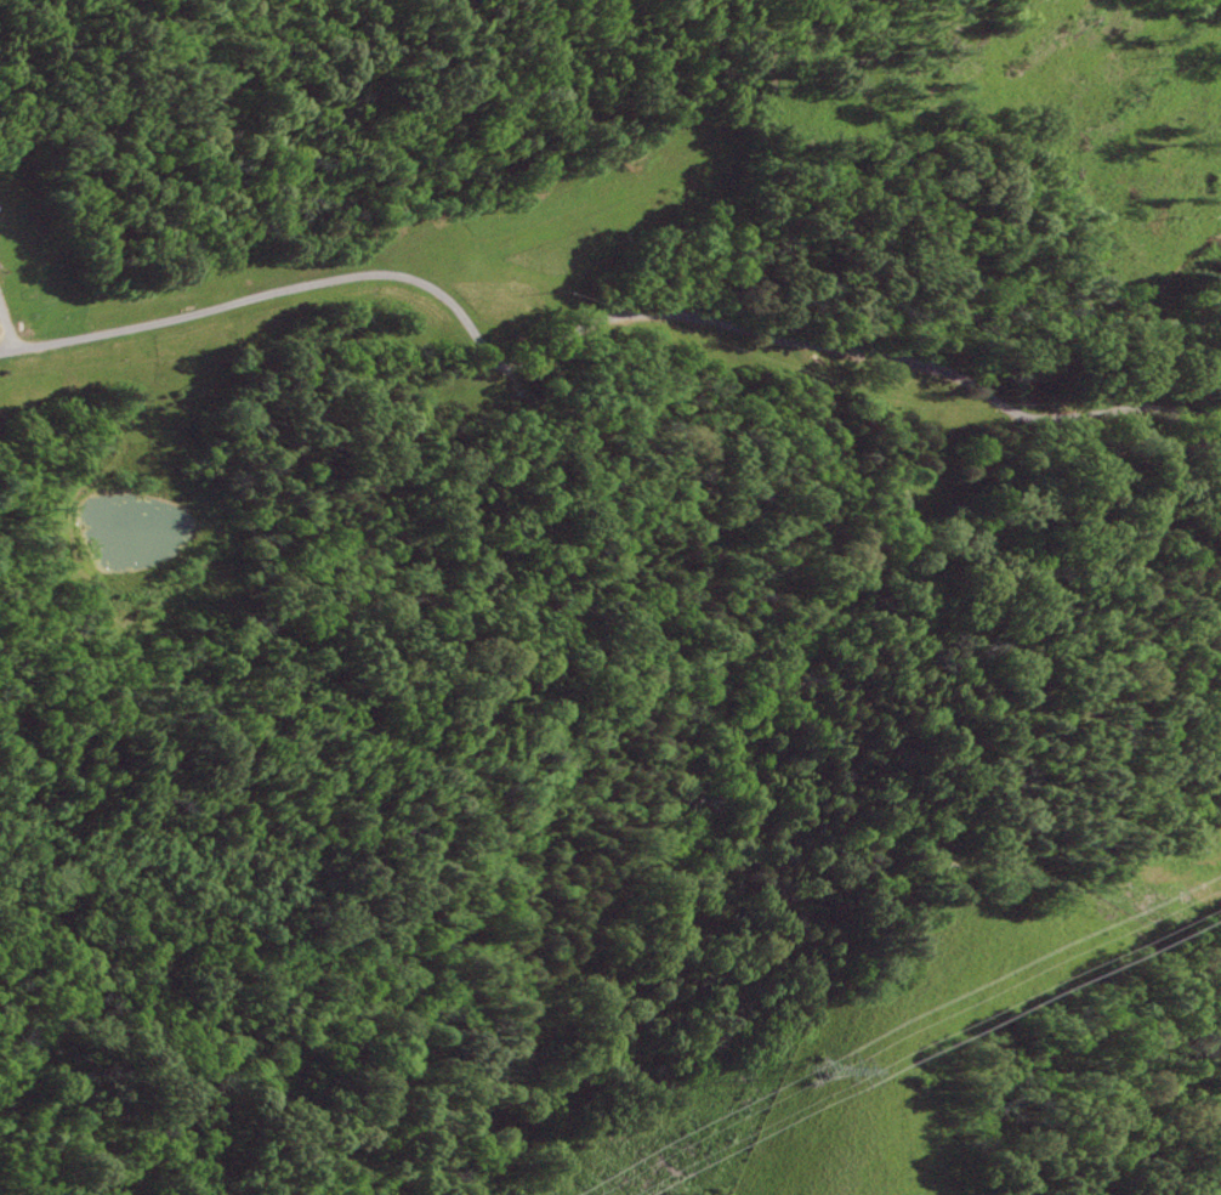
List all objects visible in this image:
road: (596, 323)
power tower: (813, 1069)

